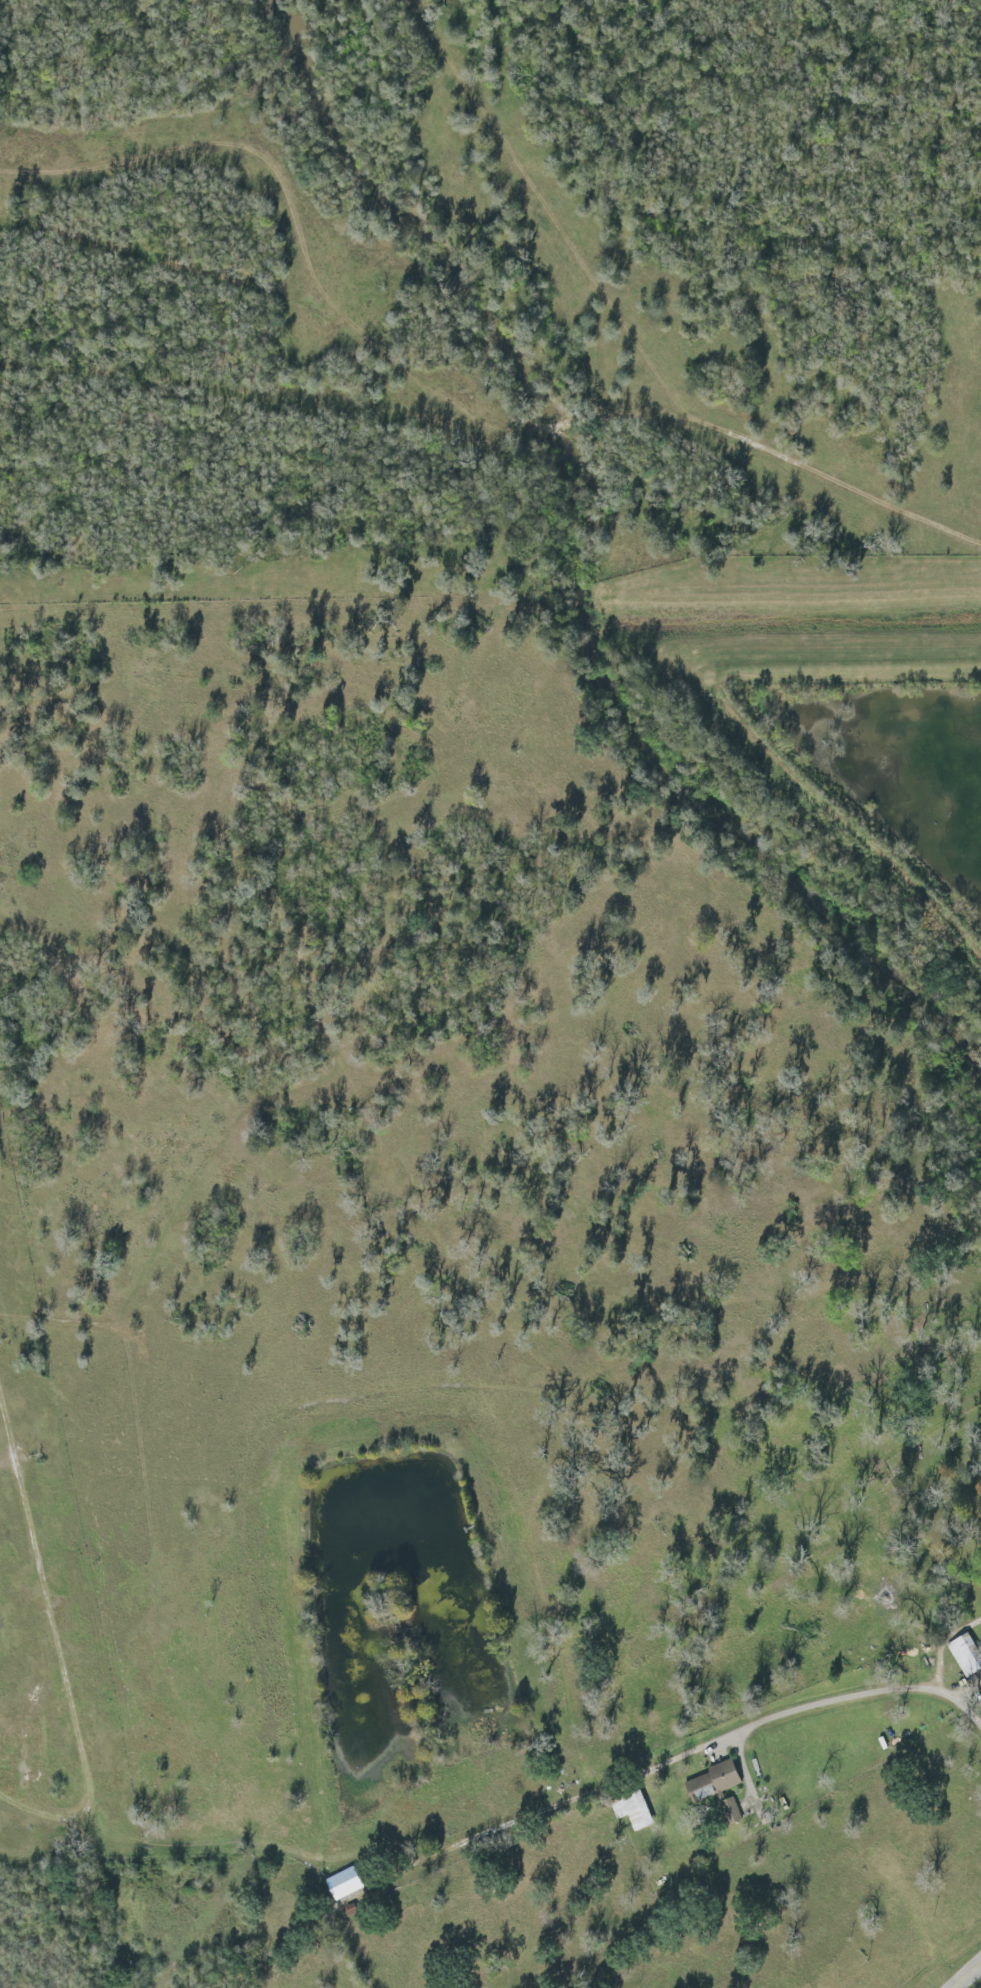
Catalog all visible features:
river: (595, 549)
building: (965, 1655)
road: (709, 1740)
building: (712, 1782)
building: (633, 1811)
building: (344, 1883)
road: (966, 1975)

